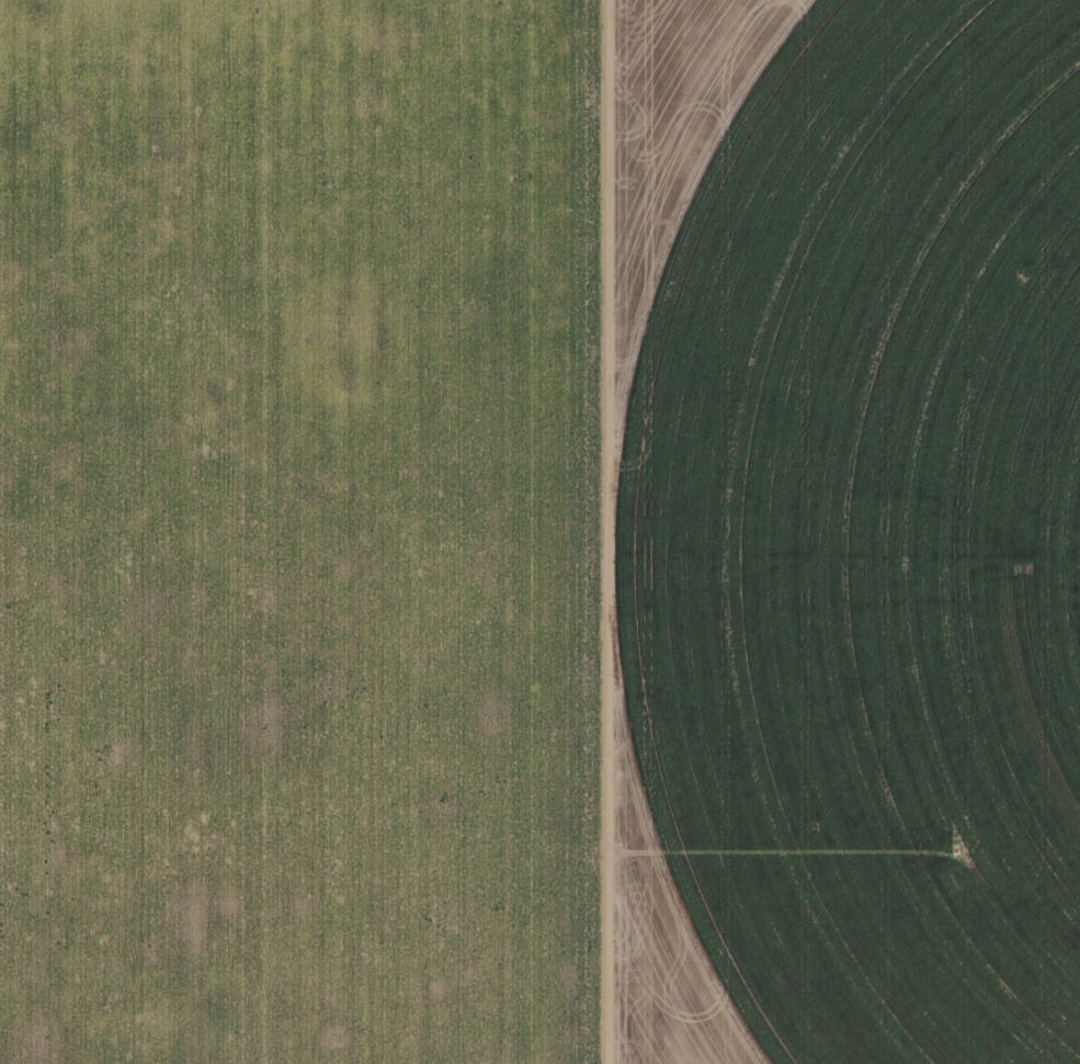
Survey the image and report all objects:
road: (647, 532)

